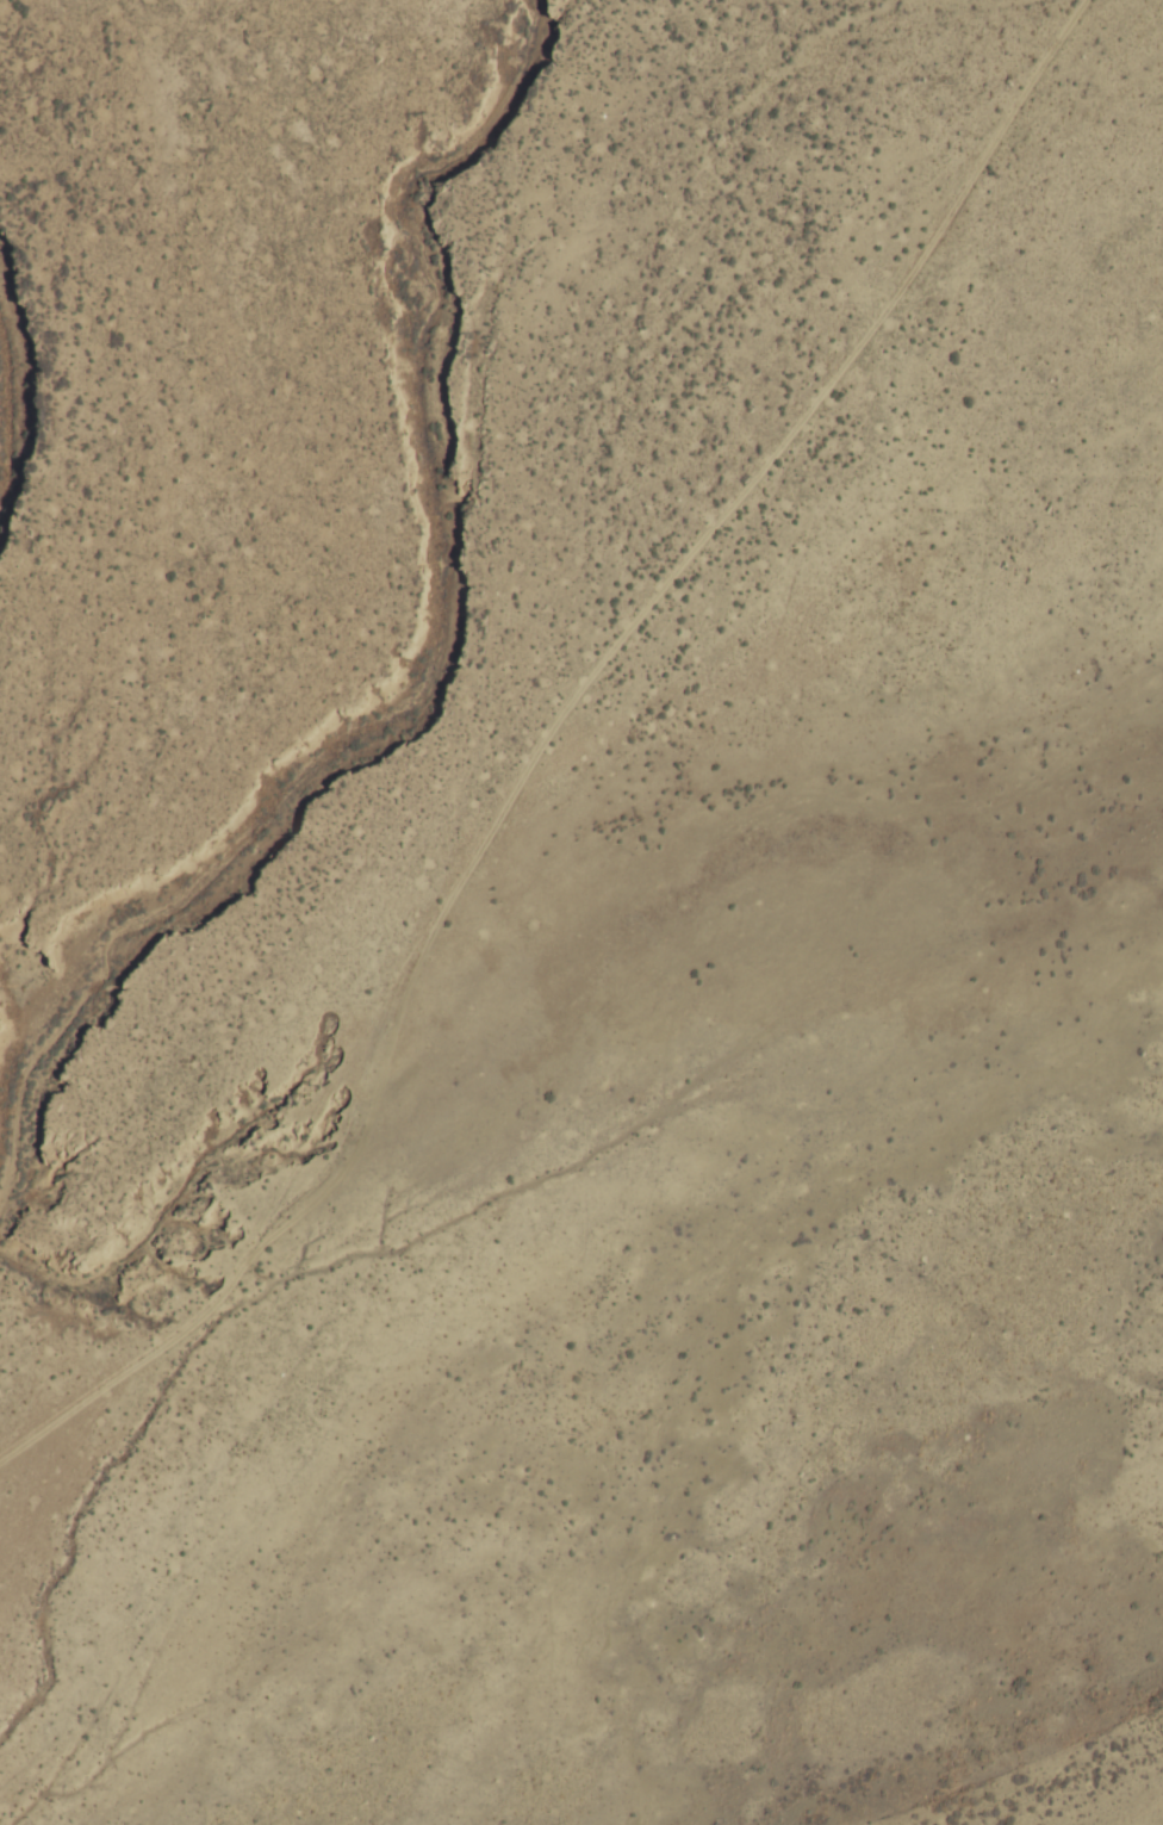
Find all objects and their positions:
river: (406, 585)
road: (545, 747)

